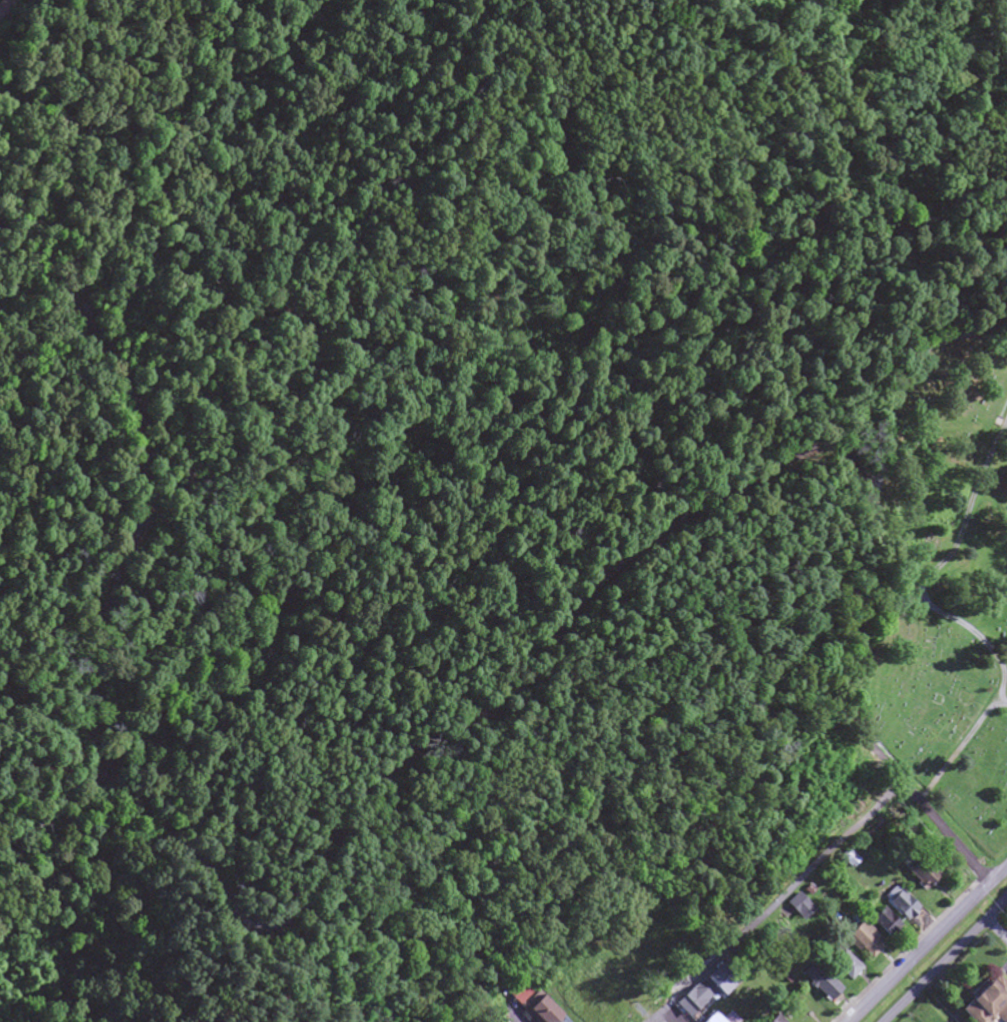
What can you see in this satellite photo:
building: (6, 11)
road: (897, 223)
road: (141, 496)
park: (942, 575)
road: (588, 606)
road: (109, 788)
road: (944, 834)
building: (843, 860)
road: (63, 866)
road: (770, 900)
road: (989, 903)
building: (800, 904)
building: (897, 906)
building: (787, 909)
building: (880, 923)
road: (997, 930)
building: (859, 942)
road: (930, 946)
road: (946, 960)
building: (838, 964)
building: (821, 977)
building: (689, 999)
building: (986, 1003)
road: (655, 1018)
building: (778, 1018)
building: (707, 1019)
building: (769, 1019)

